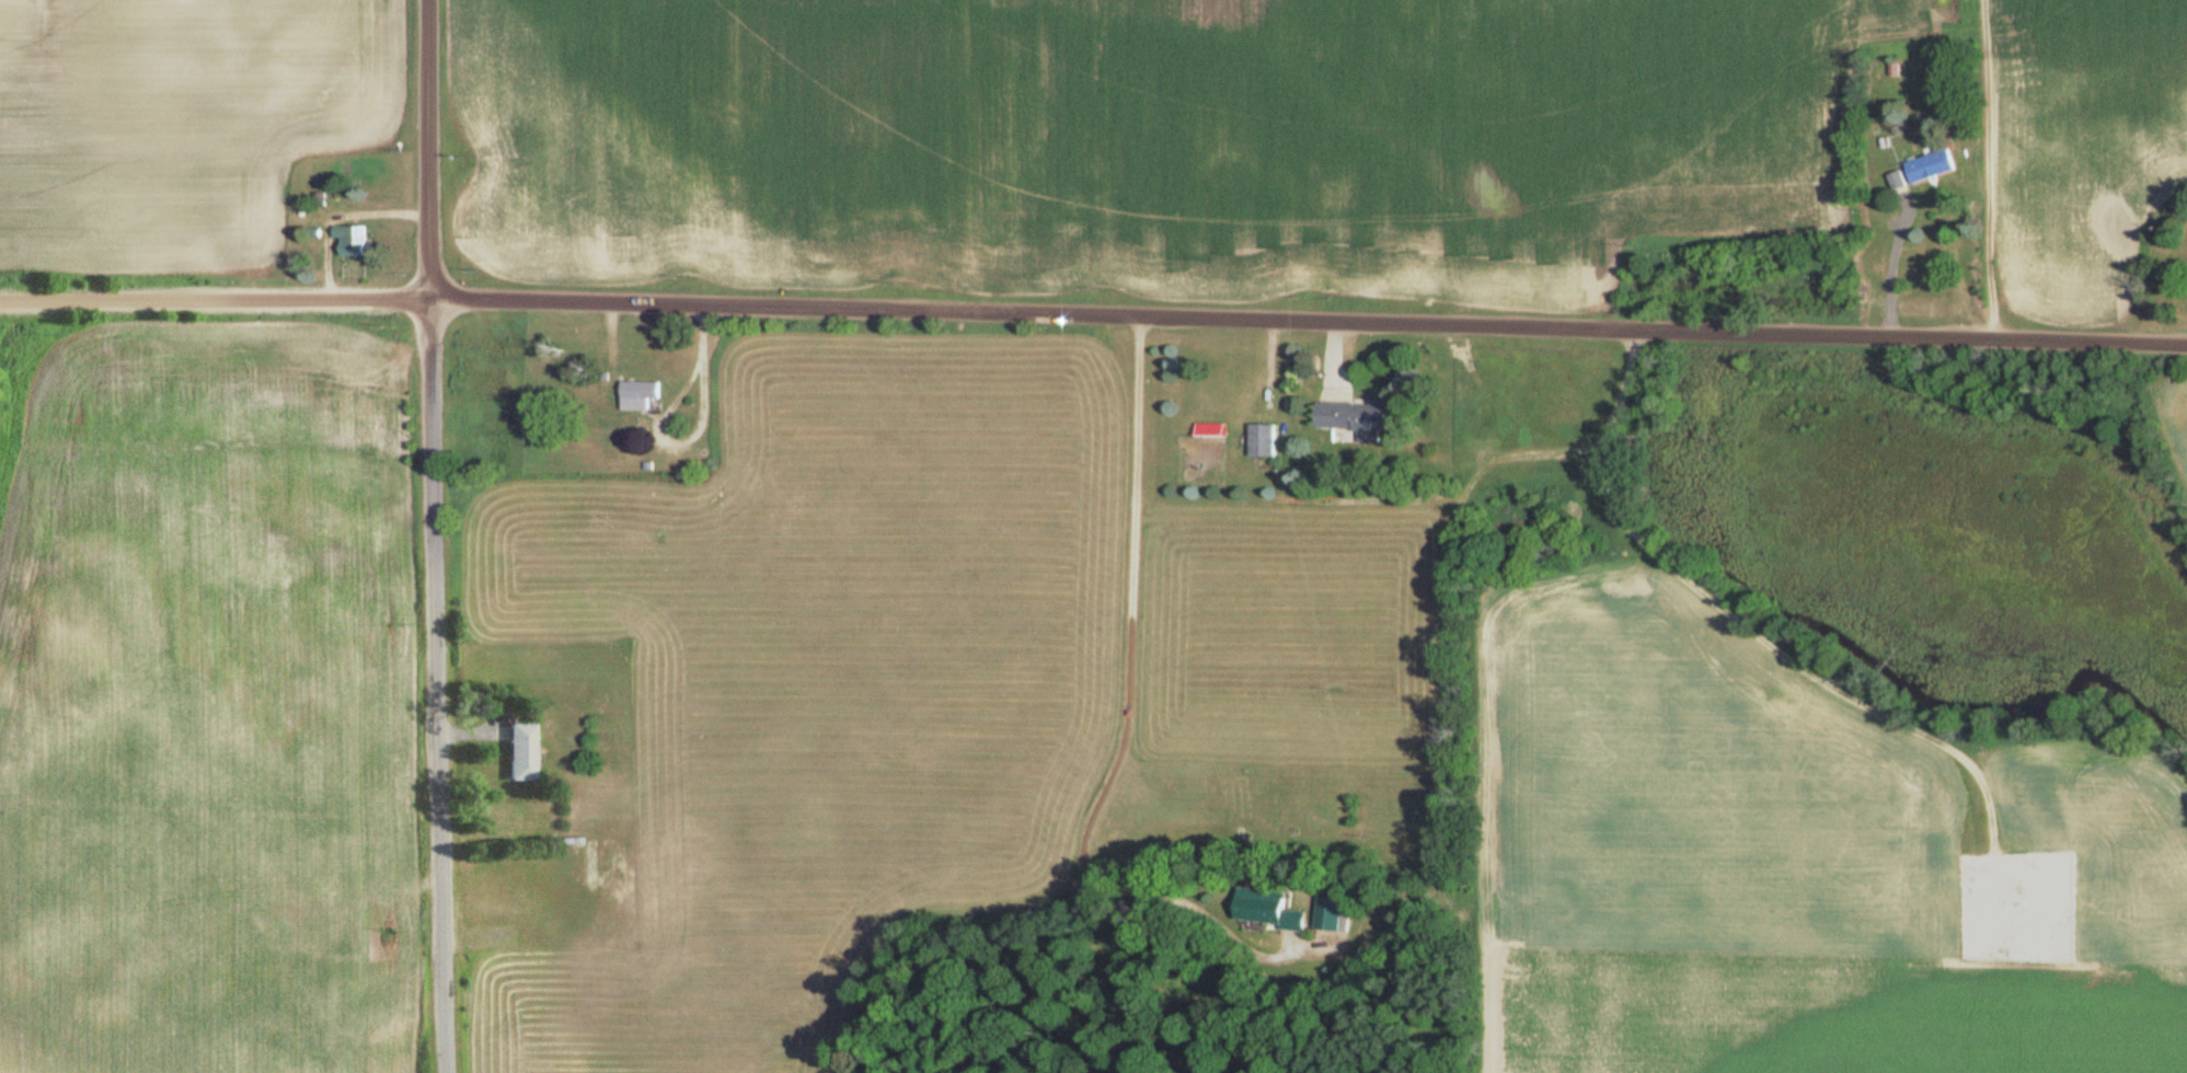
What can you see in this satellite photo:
road: (429, 150)
building: (1931, 168)
road: (1987, 168)
road: (337, 212)
building: (353, 241)
road: (217, 300)
road: (1310, 319)
building: (640, 396)
building: (1355, 417)
building: (1262, 441)
road: (442, 688)
building: (522, 752)
building: (1267, 909)
building: (1334, 914)
road: (1313, 953)

